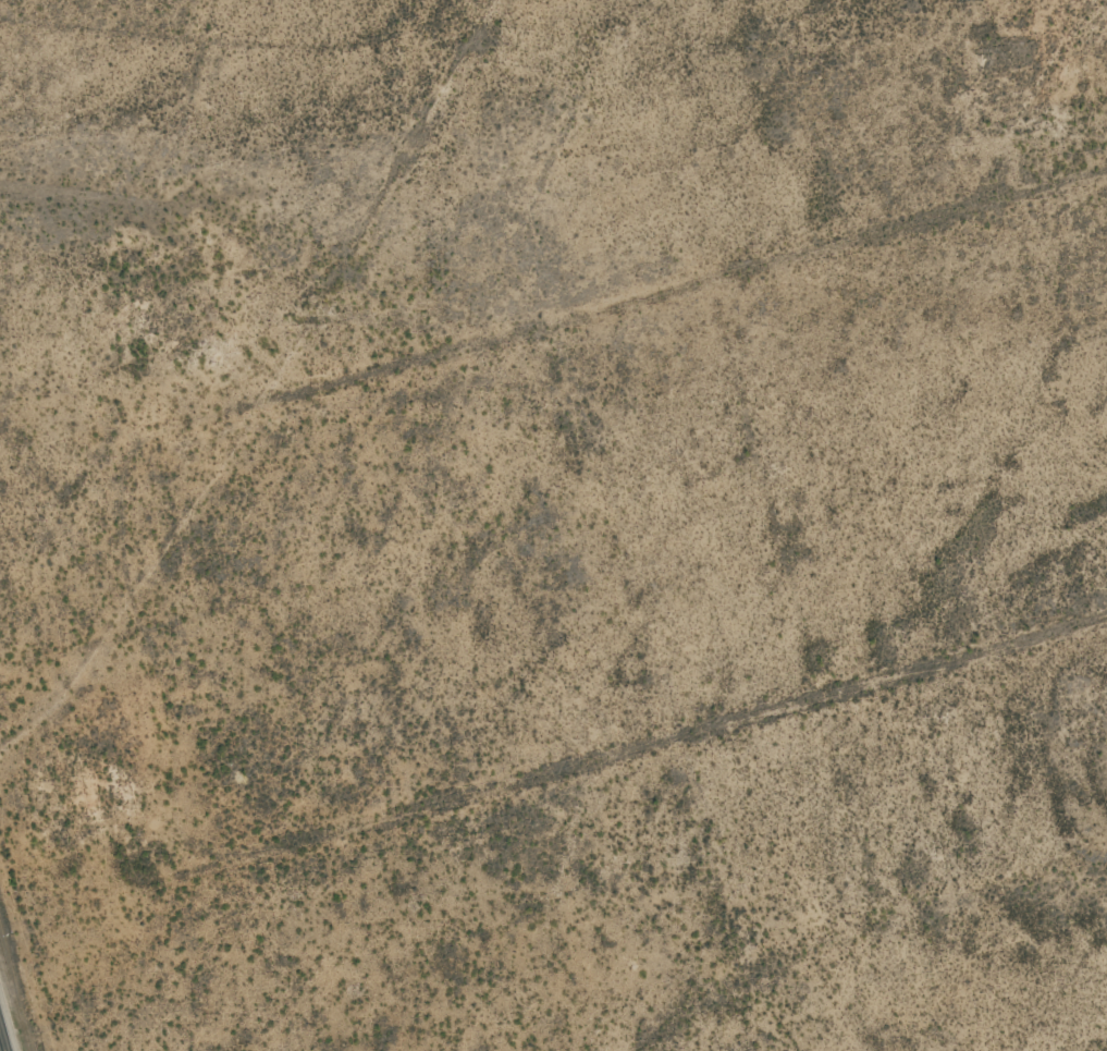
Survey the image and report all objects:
road: (3, 1035)

